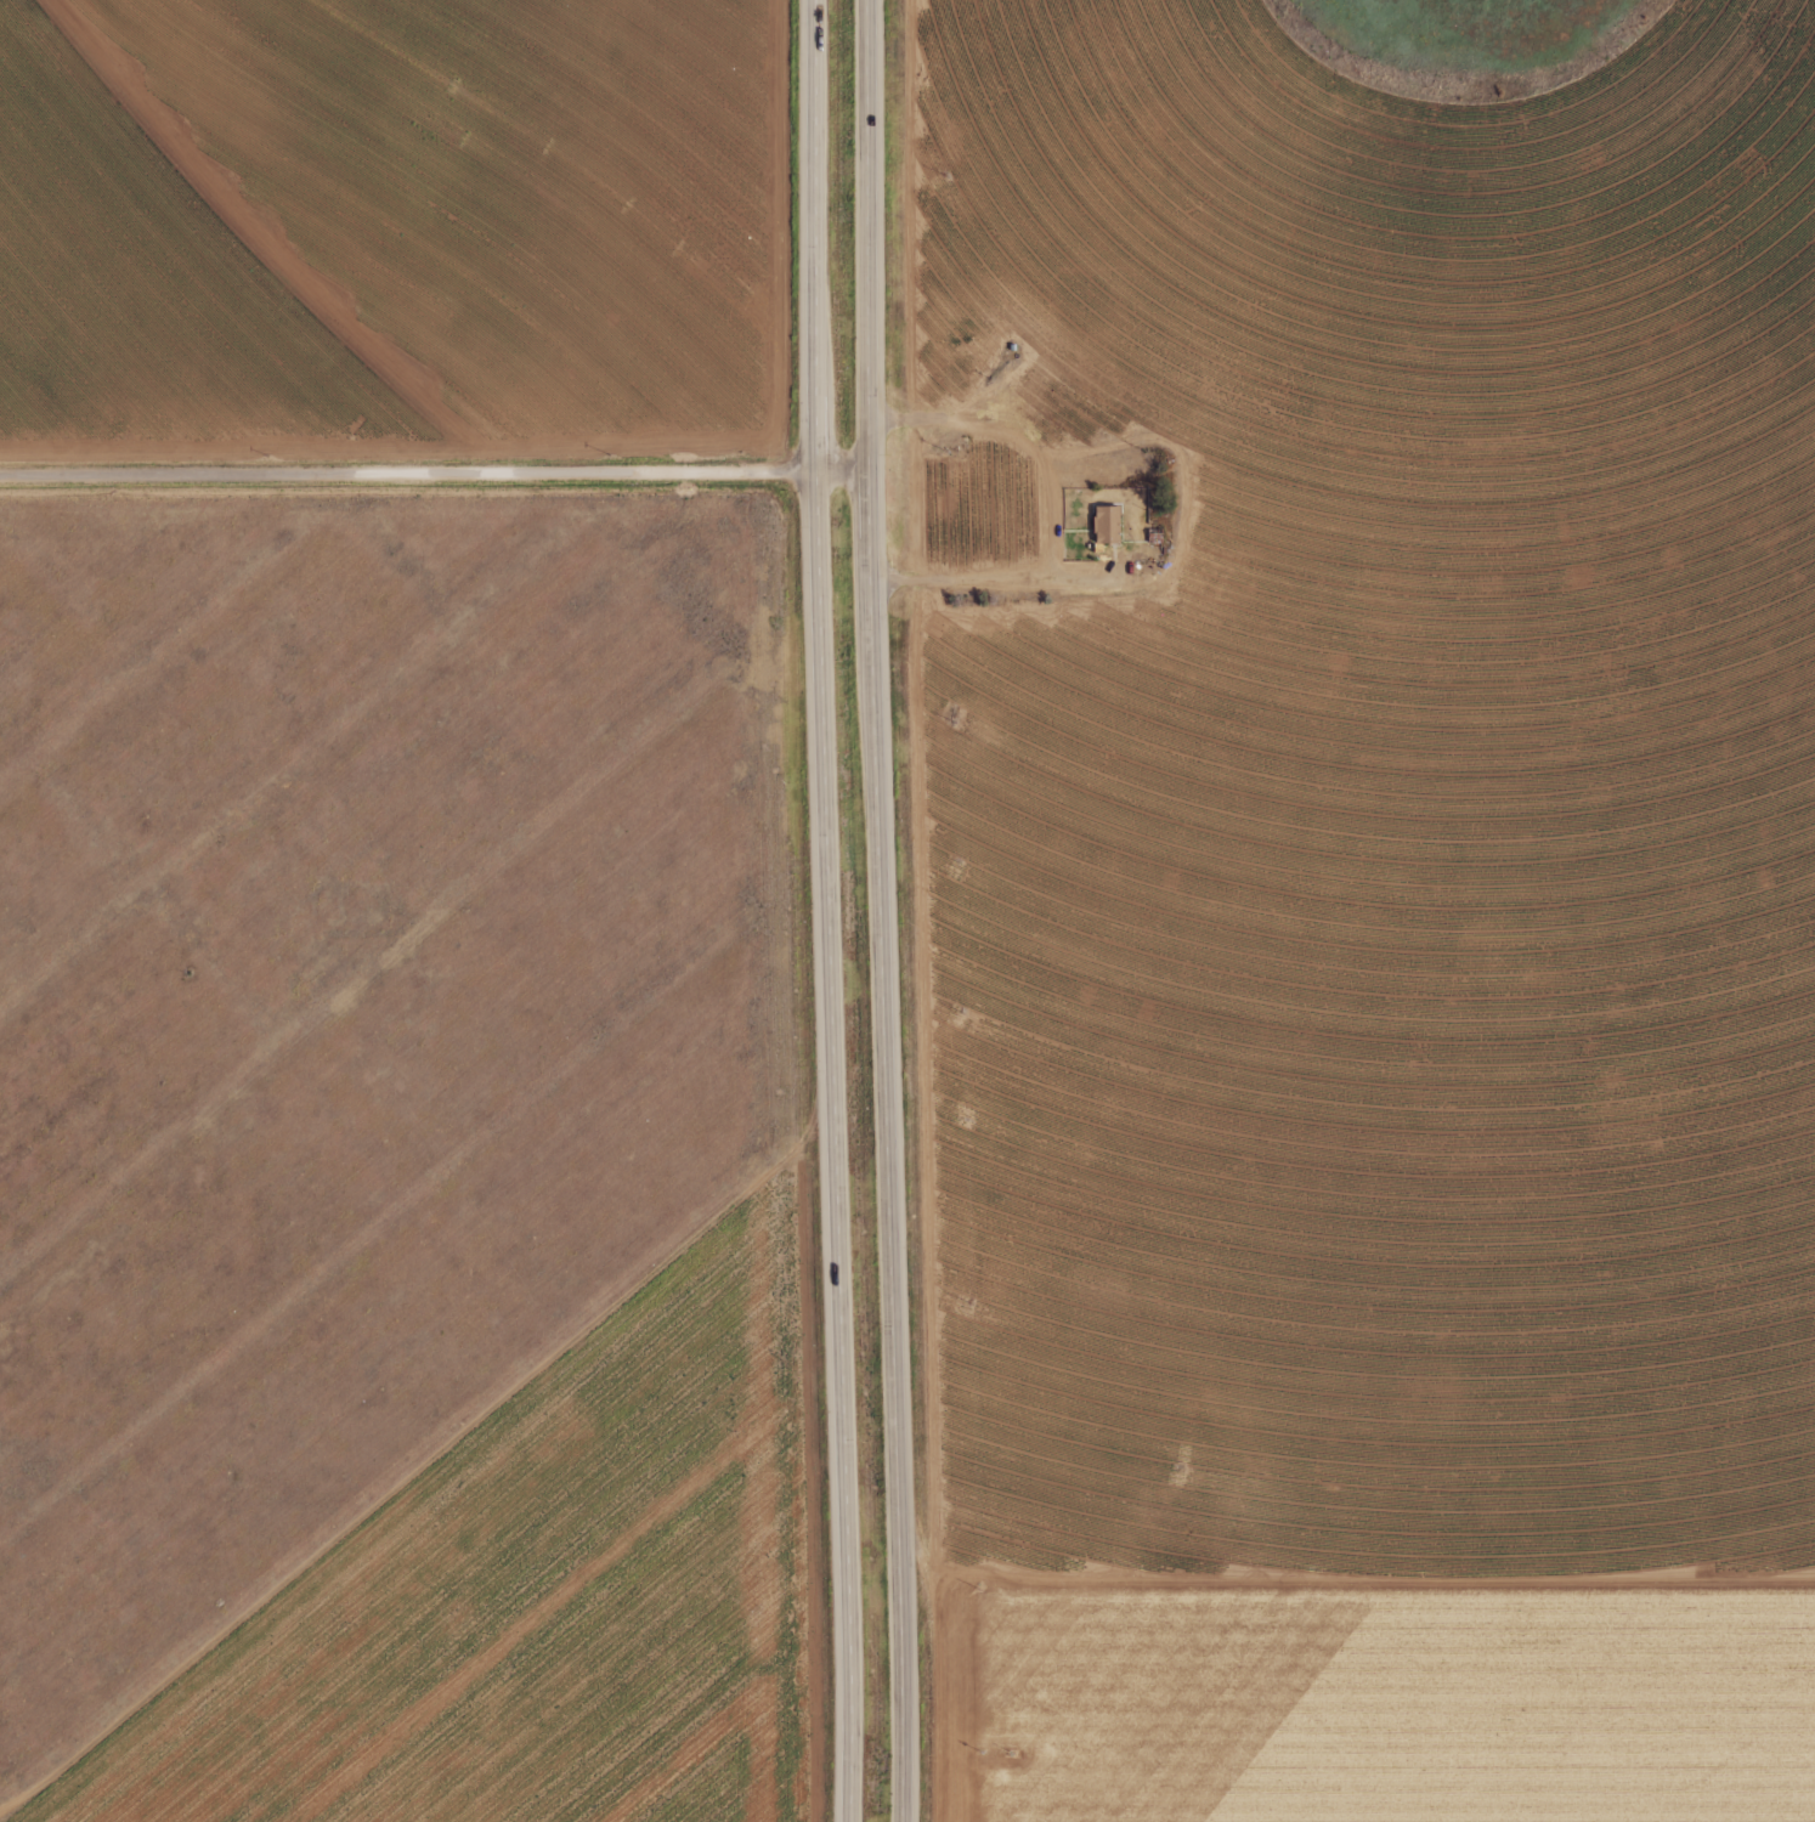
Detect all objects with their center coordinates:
road: (437, 481)
building: (1108, 525)
road: (836, 911)
road: (888, 911)

